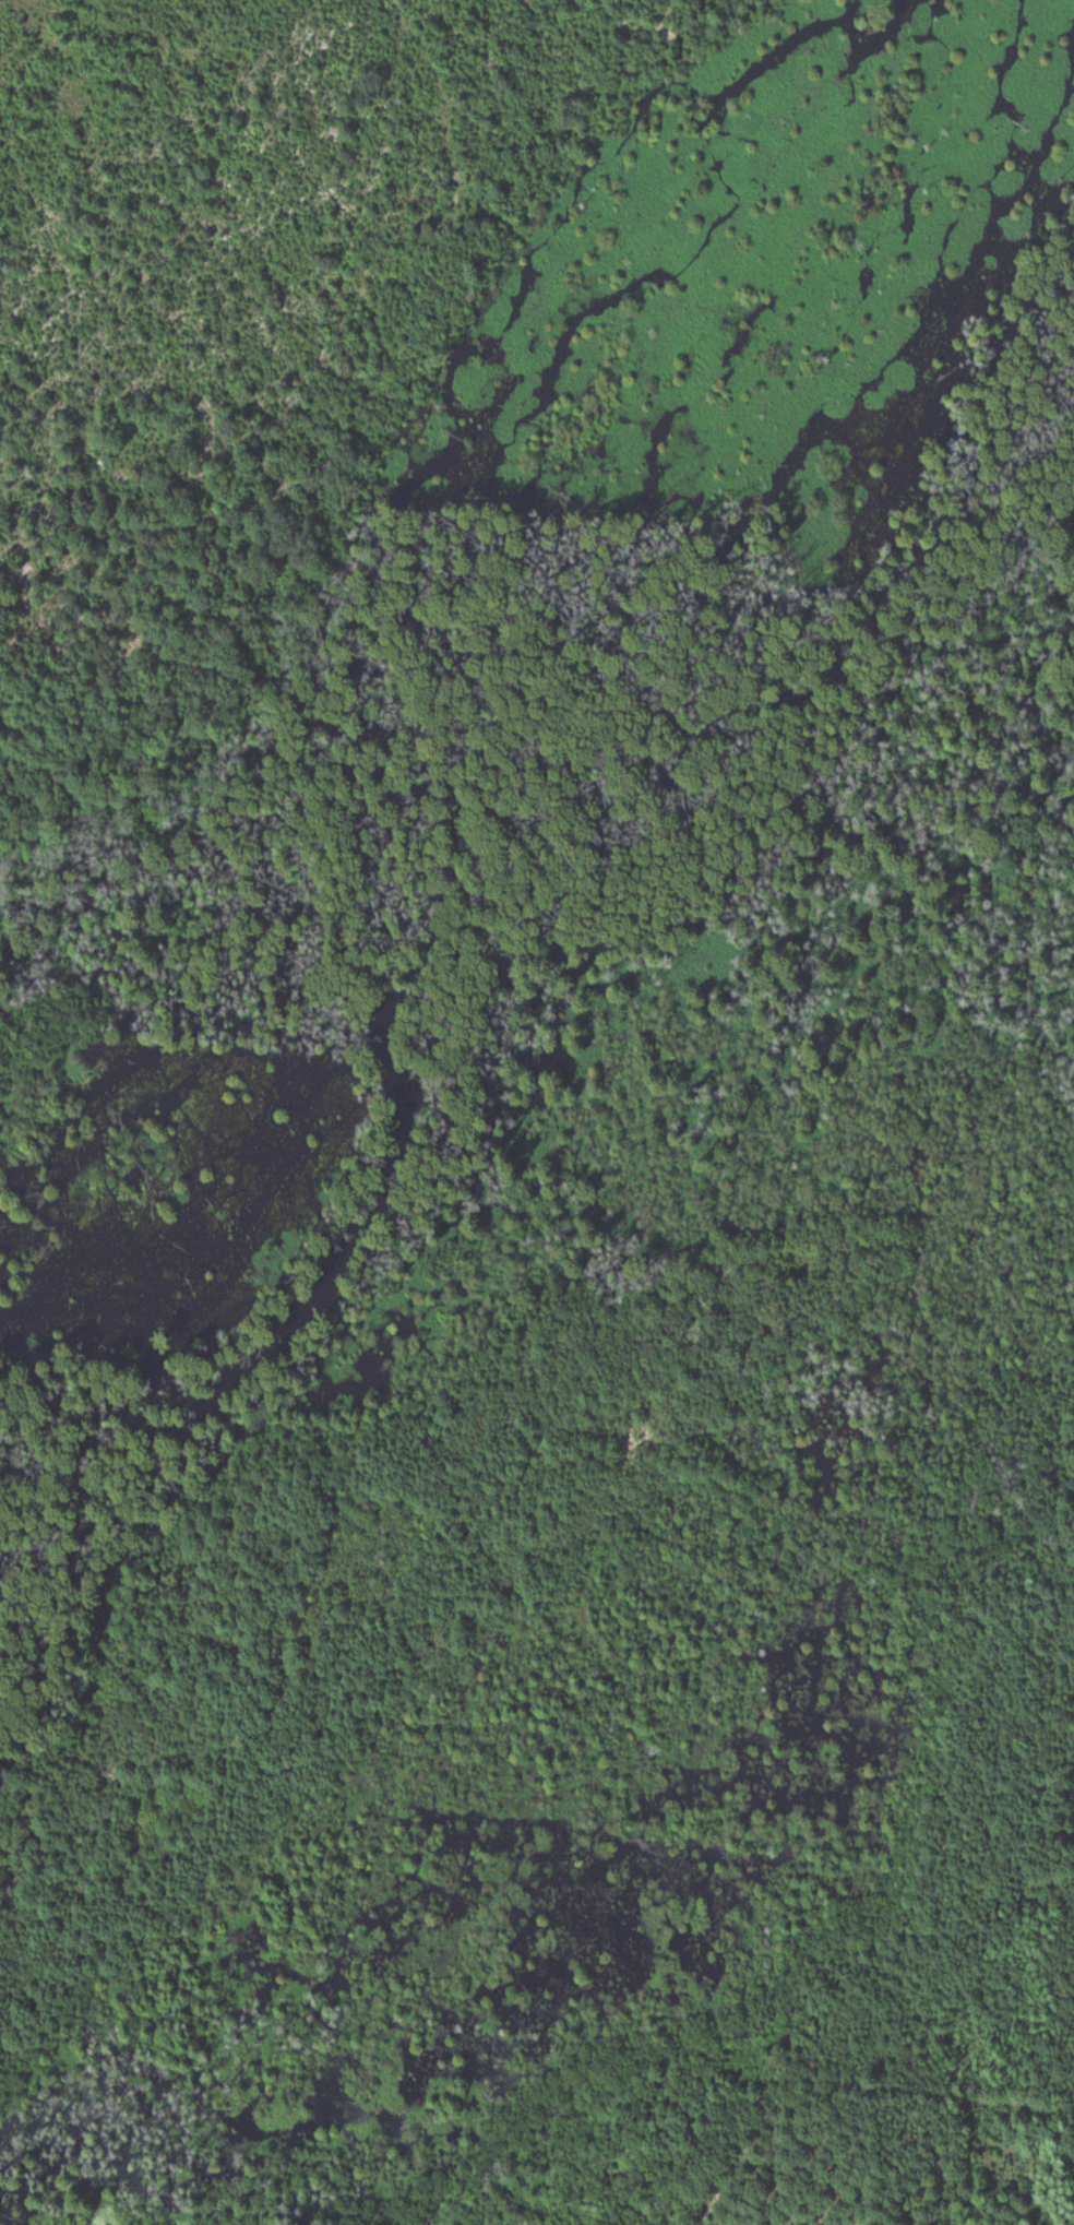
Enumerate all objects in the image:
river: (433, 925)

